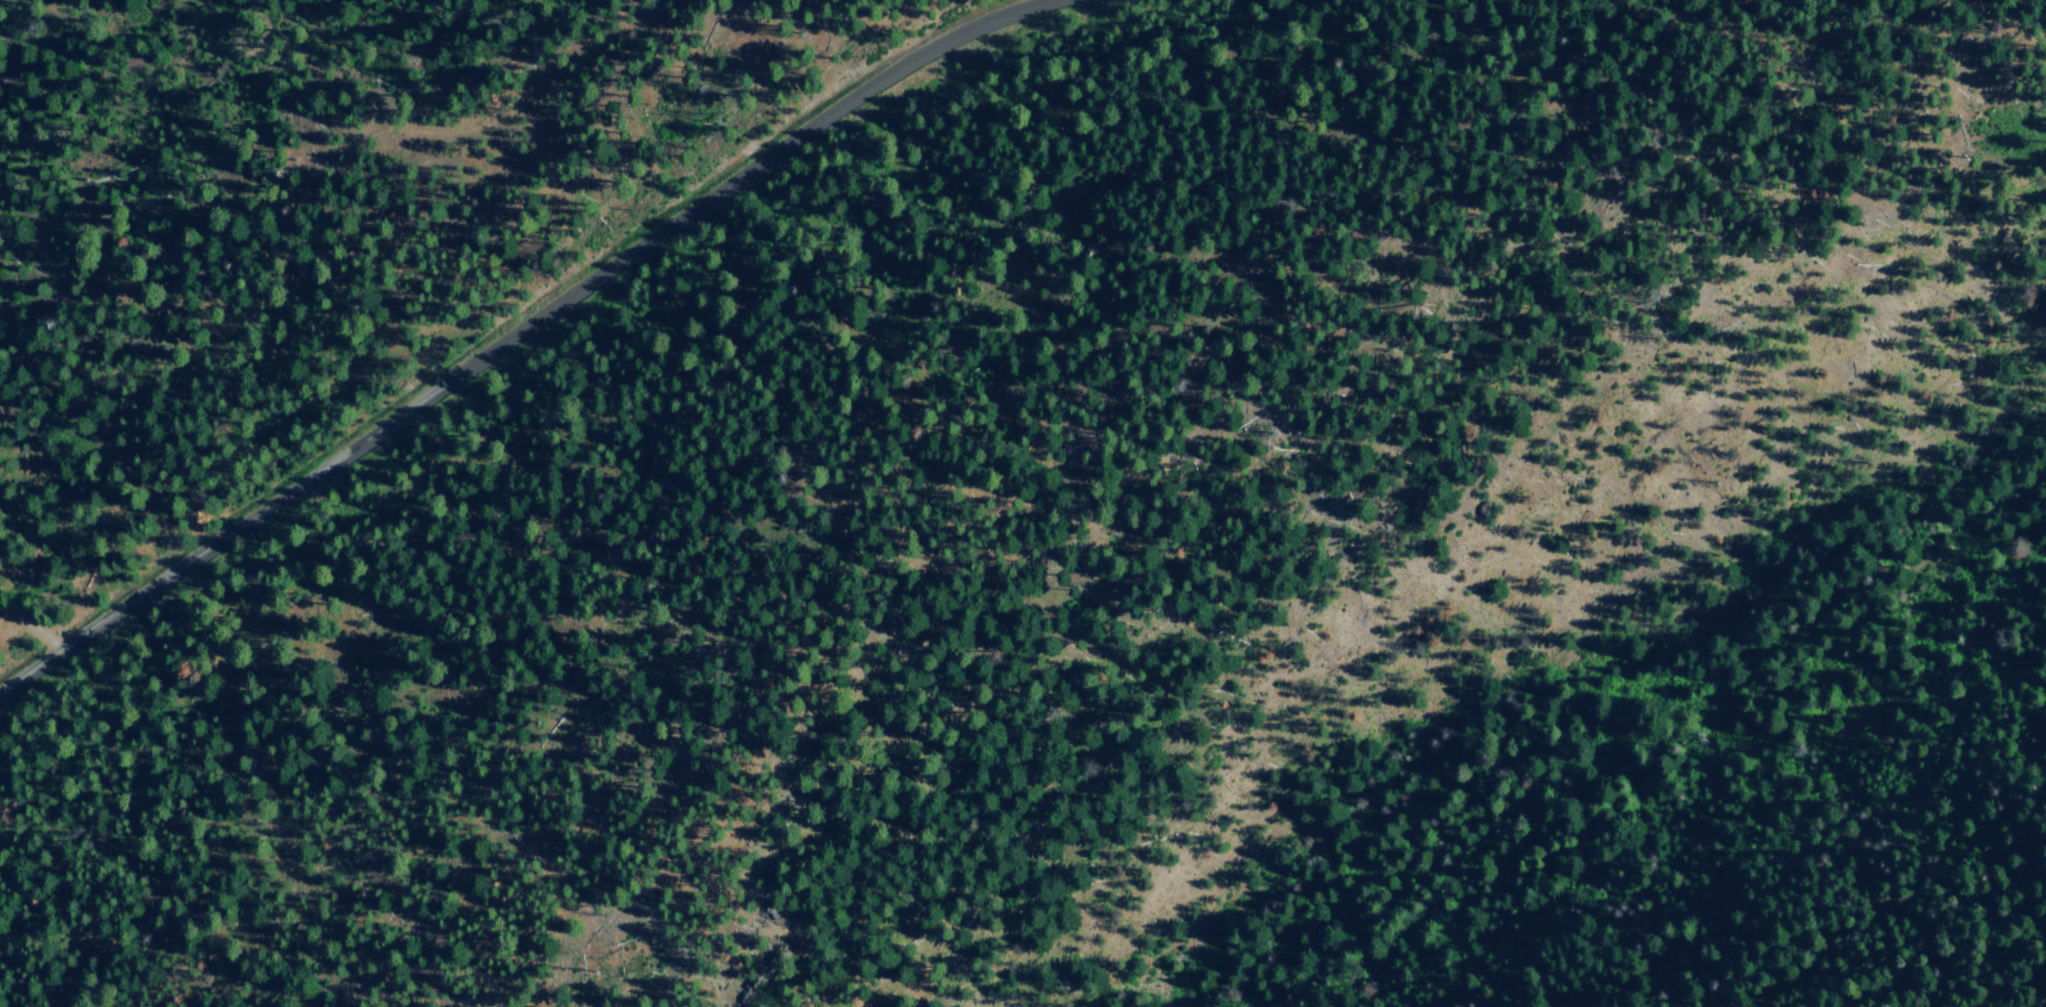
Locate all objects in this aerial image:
road: (515, 329)
road: (26, 629)

